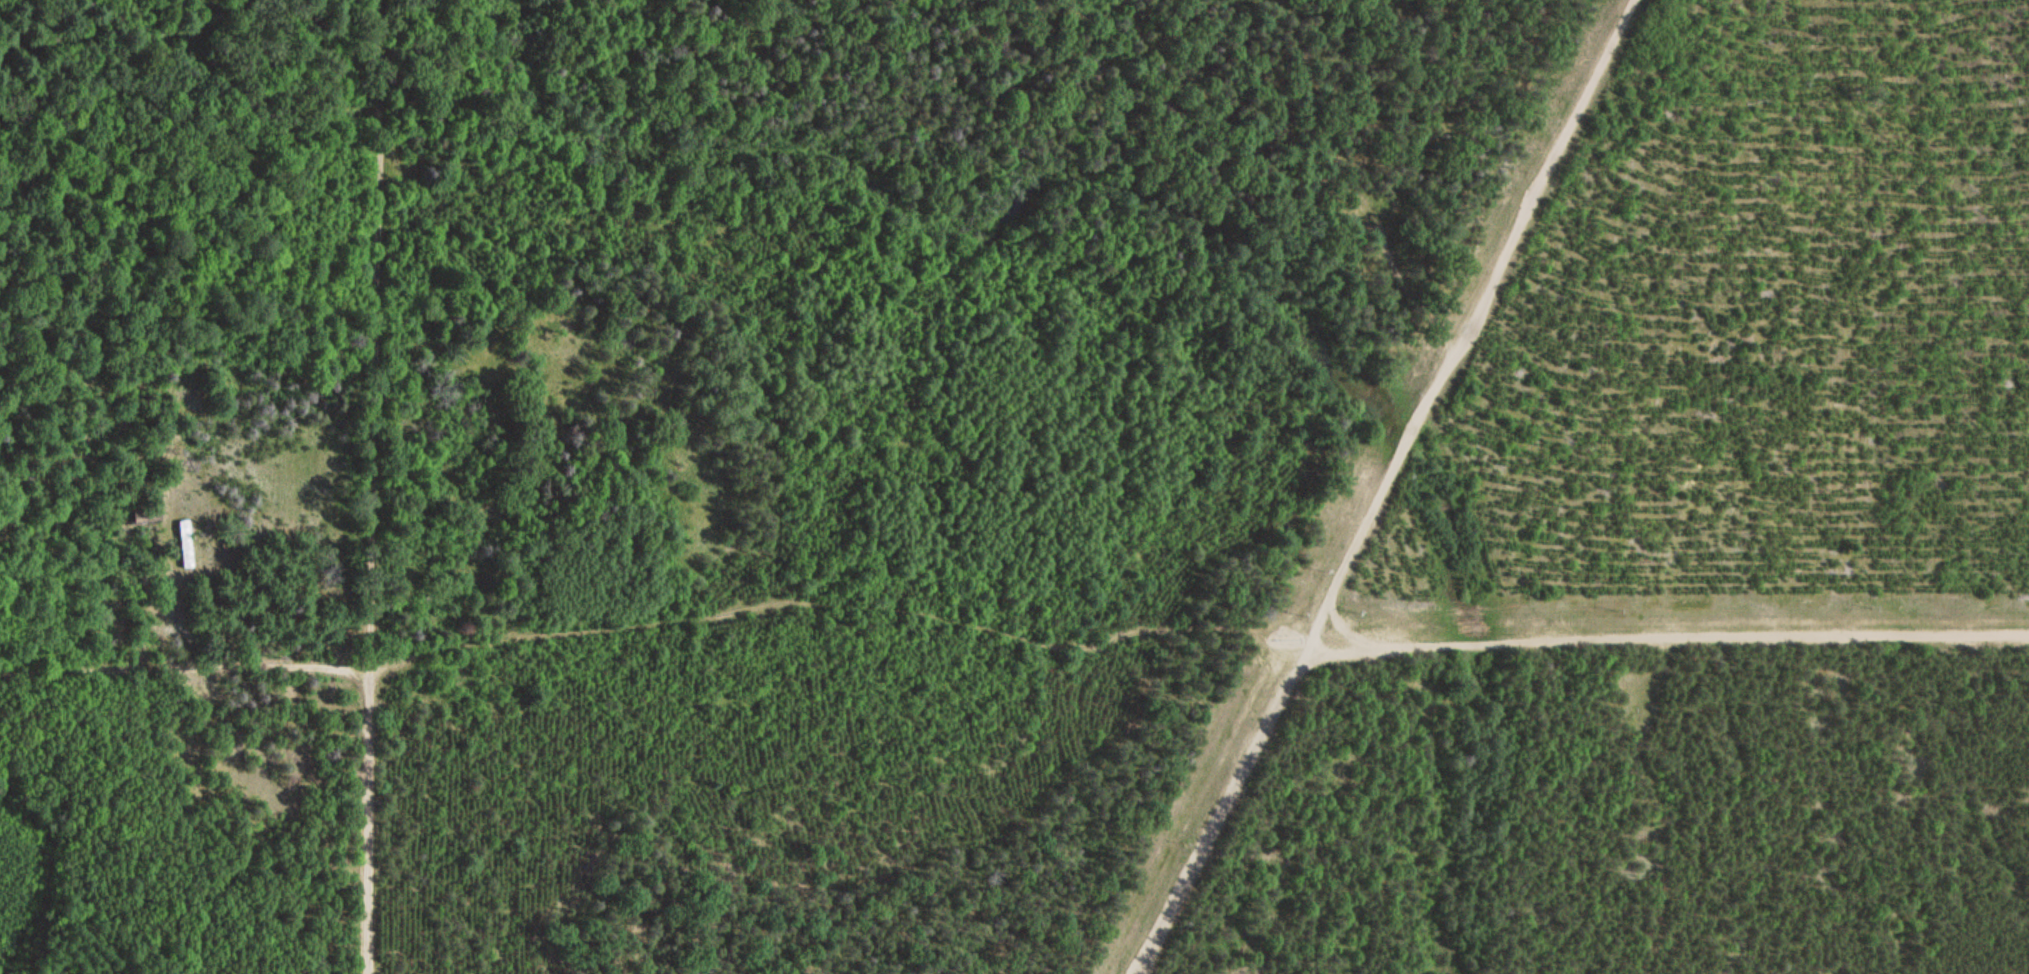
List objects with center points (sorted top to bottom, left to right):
road: (375, 69)
road: (194, 71)
road: (1431, 276)
road: (1386, 484)
building: (182, 545)
road: (369, 556)
road: (278, 627)
road: (909, 629)
road: (1847, 633)
road: (1656, 802)

